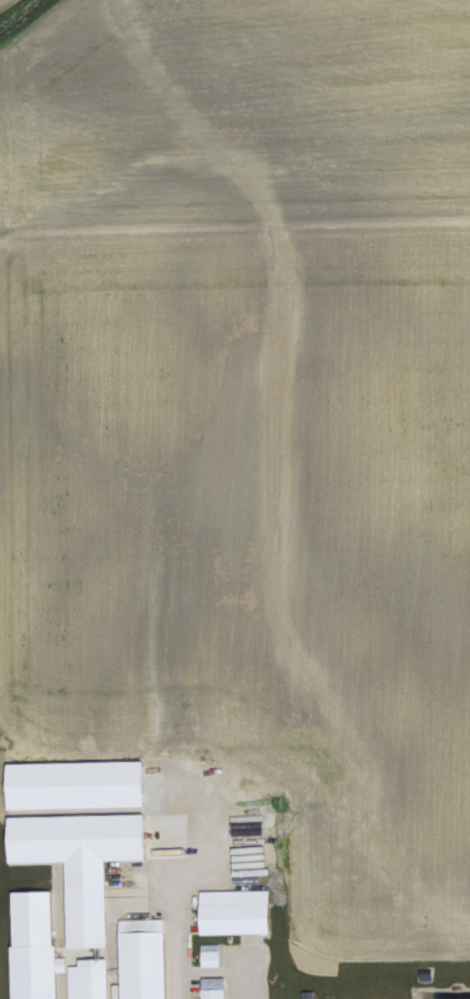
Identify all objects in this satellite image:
building: (79, 782)
building: (85, 861)
building: (238, 910)
building: (37, 945)
building: (211, 953)
building: (145, 958)
building: (91, 978)
building: (65, 982)
building: (215, 988)
building: (309, 994)

